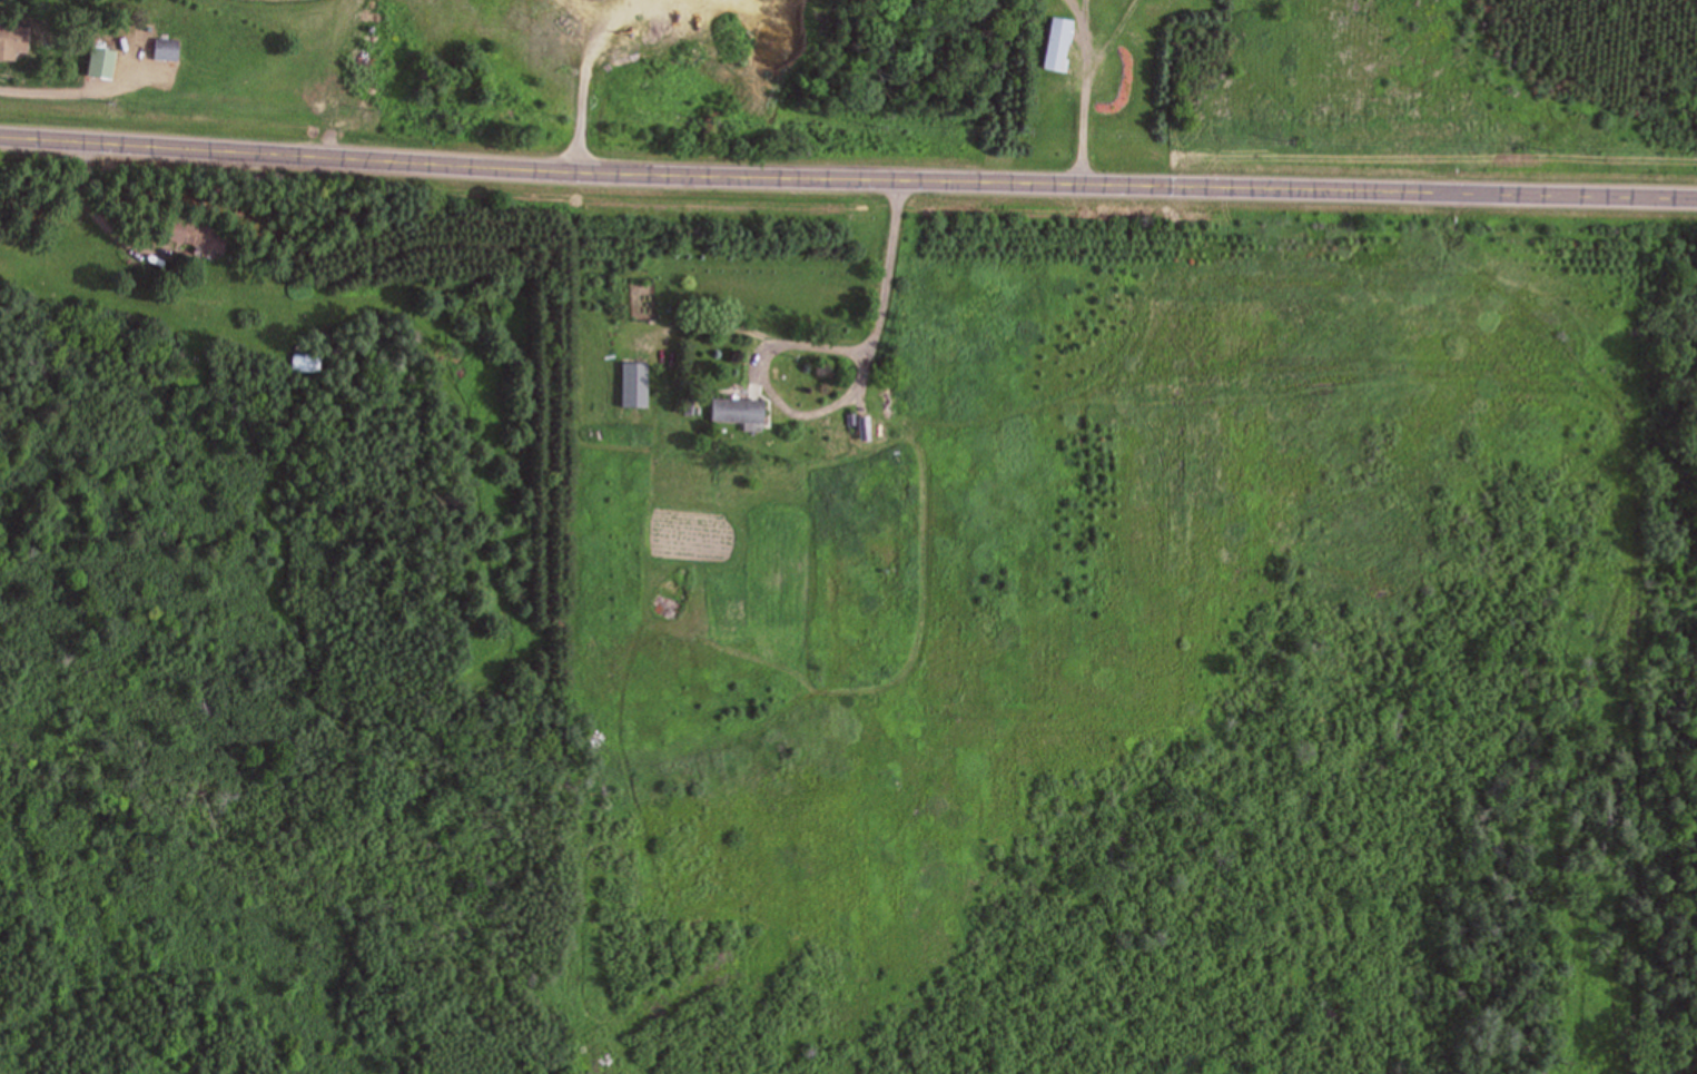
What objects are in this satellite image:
building: (14, 40)
building: (1064, 43)
building: (169, 48)
building: (106, 61)
road: (1079, 83)
road: (286, 145)
road: (1134, 169)
building: (199, 234)
road: (842, 343)
building: (306, 362)
building: (639, 384)
building: (744, 411)

